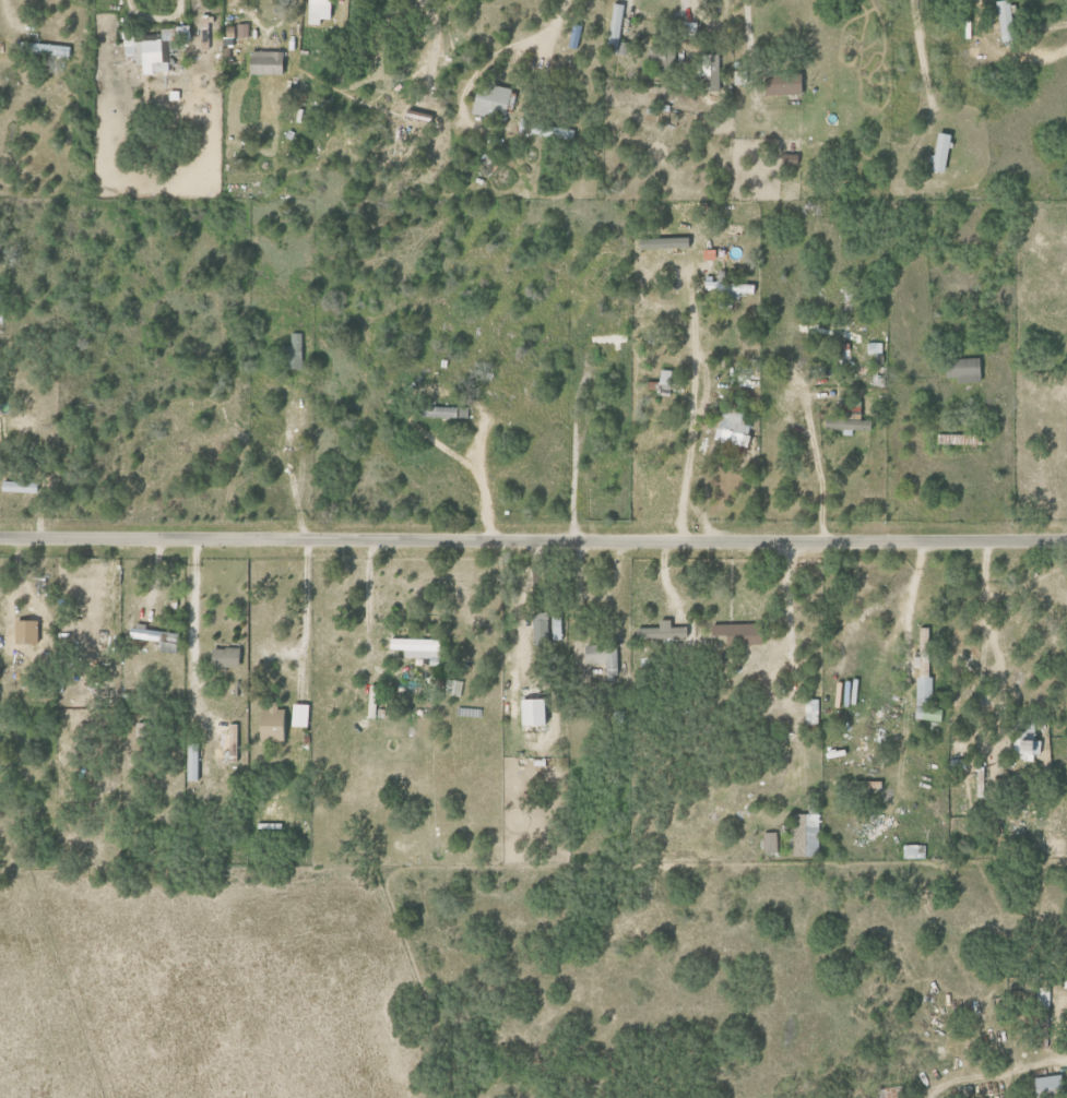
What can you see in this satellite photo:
building: (317, 11)
building: (1004, 20)
road: (745, 24)
building: (614, 27)
building: (690, 28)
building: (242, 31)
road: (1031, 45)
road: (508, 47)
building: (154, 48)
building: (48, 49)
road: (920, 59)
building: (264, 62)
building: (708, 70)
building: (781, 84)
building: (488, 100)
building: (939, 152)
building: (730, 288)
building: (873, 347)
building: (293, 351)
building: (962, 370)
building: (442, 411)
road: (690, 413)
building: (846, 419)
building: (731, 425)
building: (1066, 432)
road: (479, 446)
road: (452, 453)
road: (289, 460)
road: (574, 462)
road: (820, 477)
building: (14, 486)
road: (533, 538)
road: (579, 594)
road: (192, 601)
road: (910, 601)
building: (538, 626)
building: (555, 628)
building: (24, 632)
building: (661, 632)
building: (736, 633)
building: (155, 637)
building: (416, 647)
building: (602, 656)
building: (224, 657)
building: (924, 679)
building: (453, 687)
building: (372, 701)
building: (530, 712)
building: (810, 712)
building: (297, 715)
building: (269, 723)
building: (1025, 750)
building: (190, 762)
building: (803, 835)
building: (769, 843)
road: (1000, 1072)
building: (1045, 1085)

